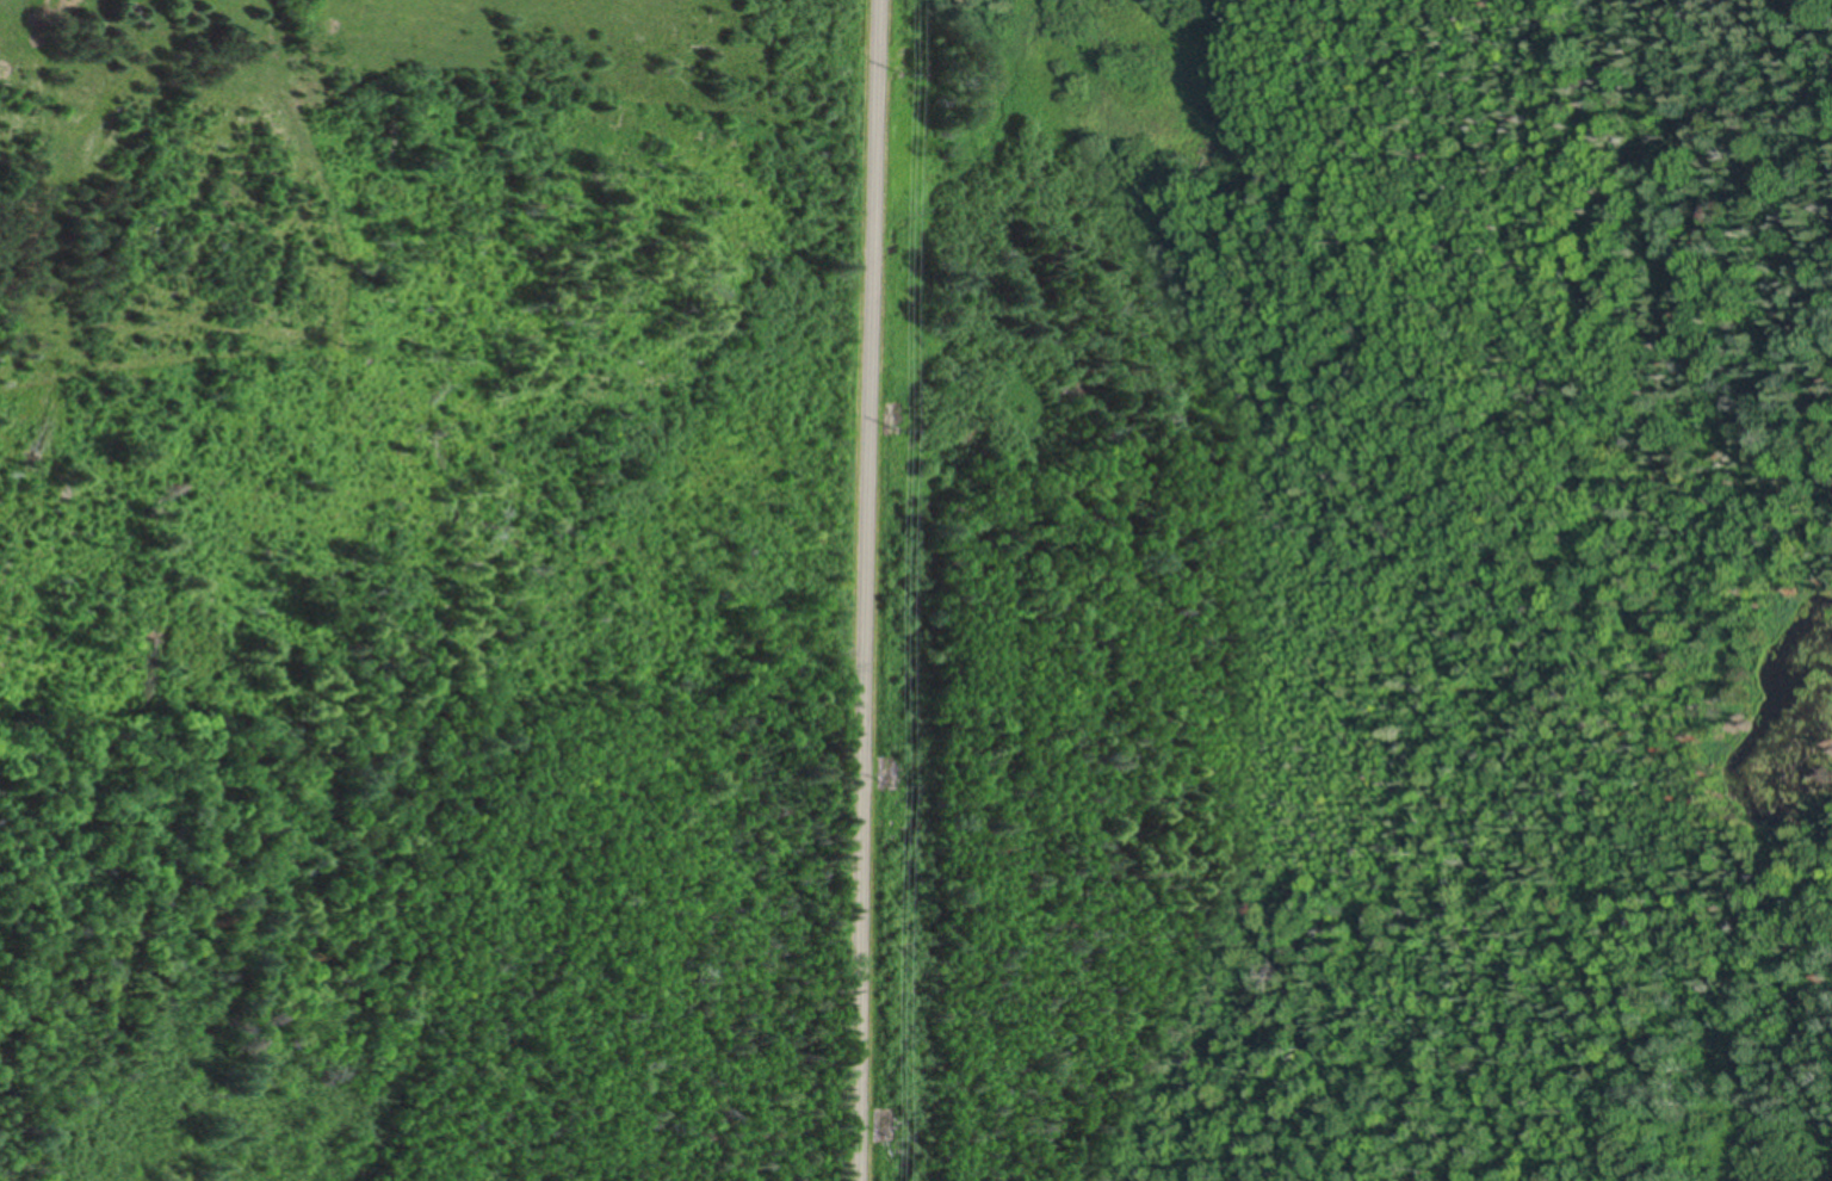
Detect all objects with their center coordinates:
road: (867, 590)

